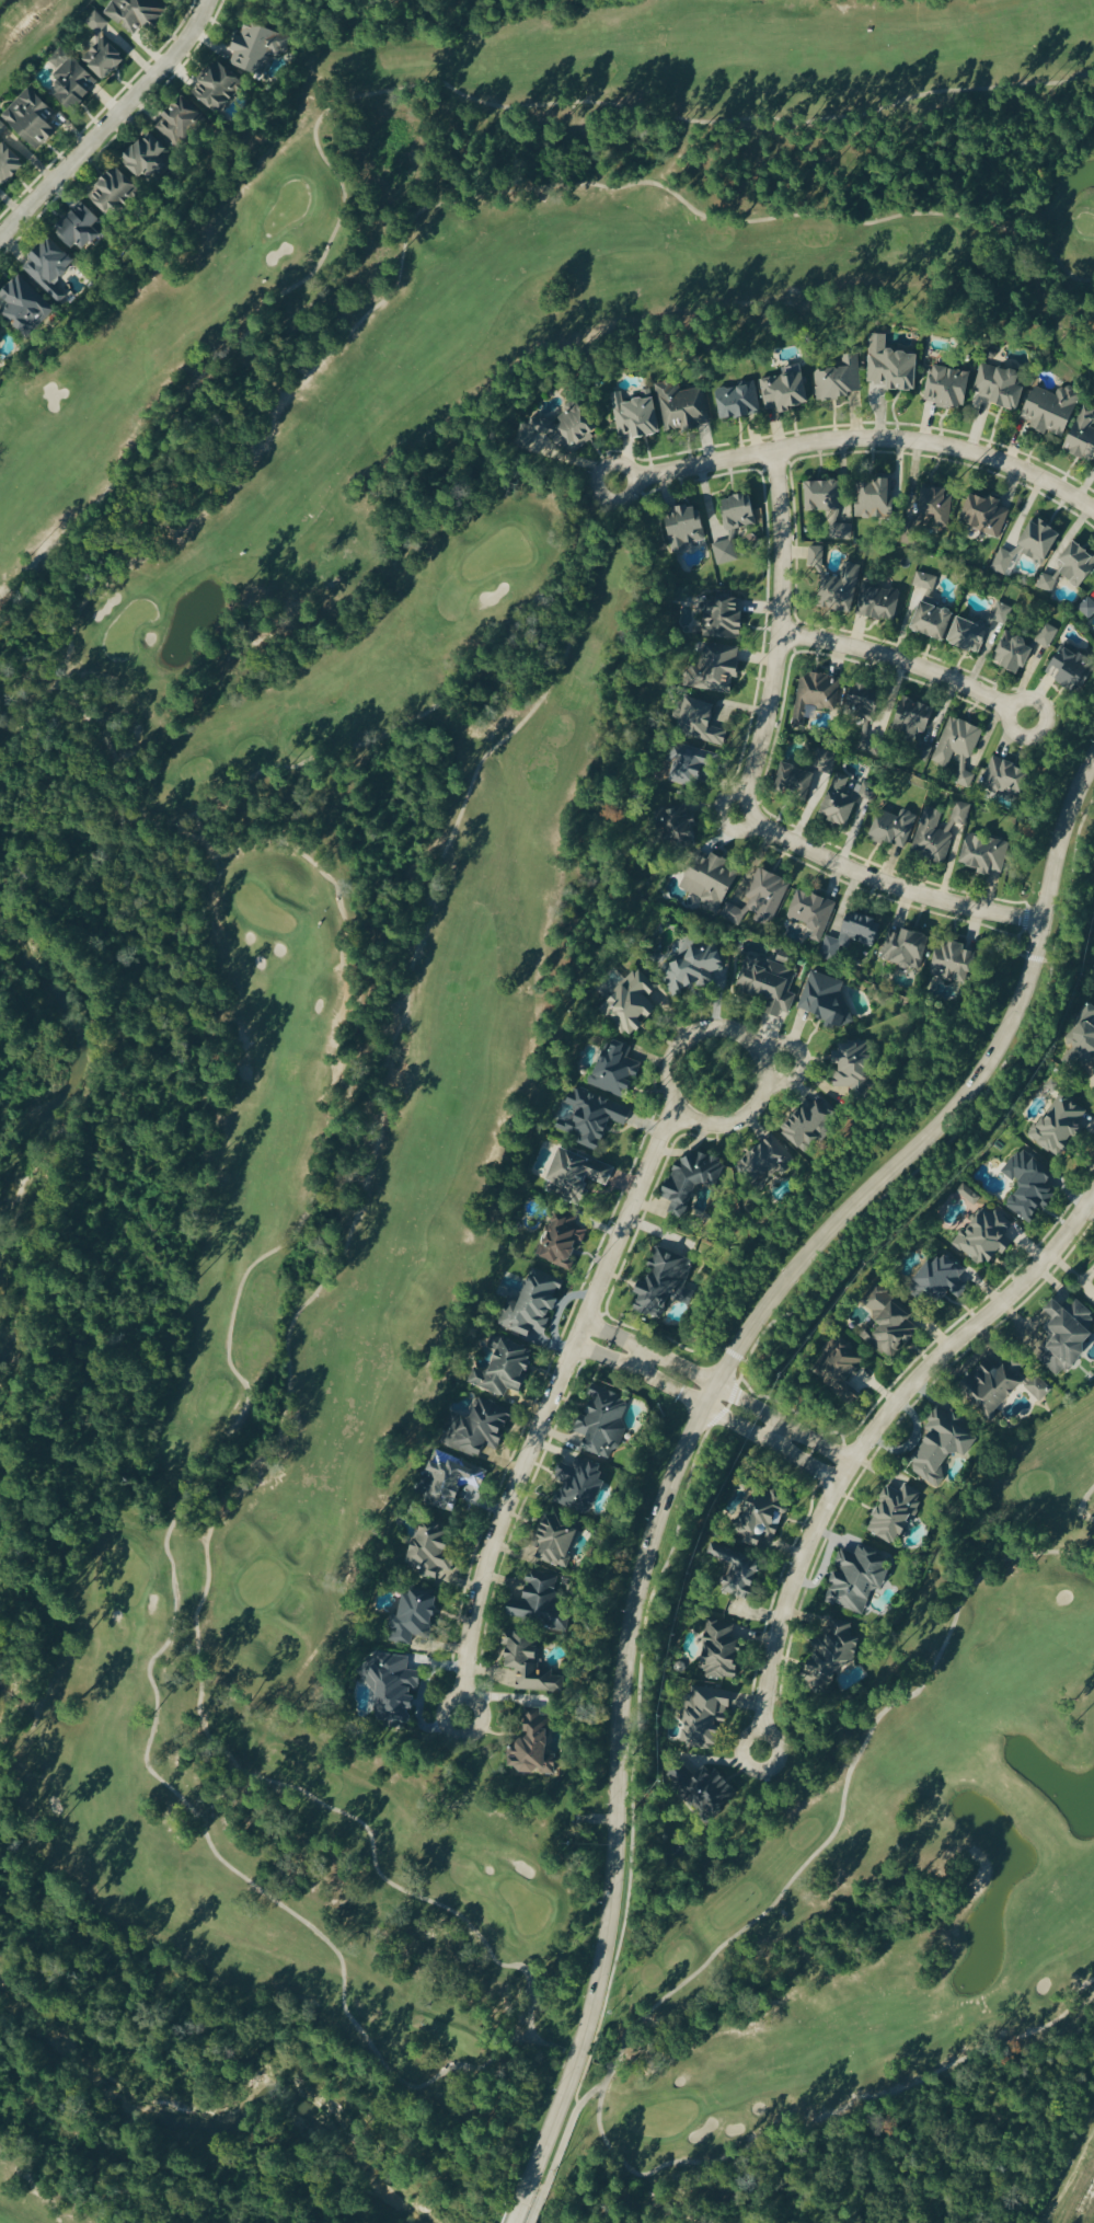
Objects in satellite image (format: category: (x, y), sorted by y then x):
building: (135, 12)
building: (258, 47)
building: (102, 48)
building: (71, 78)
building: (217, 84)
road: (396, 85)
building: (179, 119)
road: (111, 123)
building: (2, 126)
building: (146, 154)
building: (9, 162)
building: (112, 191)
building: (81, 226)
building: (49, 263)
building: (24, 306)
building: (1, 341)
building: (891, 365)
building: (840, 379)
building: (1002, 384)
building: (948, 385)
building: (786, 389)
building: (738, 400)
building: (682, 405)
building: (1052, 408)
building: (637, 414)
building: (564, 427)
building: (1083, 434)
road: (860, 439)
building: (875, 496)
building: (829, 505)
building: (936, 505)
building: (986, 514)
building: (735, 525)
building: (686, 527)
building: (1078, 563)
building: (1047, 581)
building: (926, 584)
building: (839, 587)
building: (879, 601)
building: (1087, 607)
building: (724, 618)
building: (934, 620)
building: (978, 630)
building: (1023, 647)
road: (909, 665)
building: (721, 668)
building: (1072, 669)
building: (815, 698)
road: (33, 702)
building: (866, 703)
building: (913, 721)
building: (957, 751)
building: (693, 767)
building: (1005, 780)
building: (796, 782)
road: (744, 795)
road: (177, 828)
building: (893, 829)
building: (937, 832)
building: (986, 855)
building: (711, 886)
building: (765, 897)
building: (811, 913)
building: (852, 936)
building: (905, 948)
road: (1018, 955)
building: (954, 964)
building: (696, 967)
building: (770, 984)
building: (825, 998)
park: (492, 1043)
road: (758, 1052)
building: (1082, 1052)
road: (802, 1058)
building: (613, 1068)
river: (51, 1108)
building: (1061, 1127)
building: (809, 1129)
building: (768, 1165)
building: (576, 1177)
building: (691, 1182)
building: (1030, 1184)
building: (986, 1236)
building: (563, 1243)
building: (941, 1281)
building: (666, 1286)
building: (537, 1305)
building: (893, 1327)
road: (599, 1332)
building: (1066, 1337)
road: (589, 1352)
road: (637, 1362)
road: (718, 1386)
building: (994, 1386)
building: (1038, 1390)
road: (706, 1408)
road: (549, 1412)
building: (604, 1421)
road: (695, 1430)
road: (776, 1435)
road: (870, 1439)
building: (941, 1447)
road: (834, 1455)
road: (694, 1465)
road: (821, 1475)
road: (193, 1479)
building: (453, 1483)
road: (1082, 1508)
building: (569, 1512)
building: (896, 1513)
building: (763, 1514)
building: (430, 1553)
building: (856, 1585)
building: (417, 1613)
building: (517, 1631)
river: (1, 1640)
building: (718, 1657)
building: (393, 1692)
building: (706, 1719)
building: (537, 1747)
road: (847, 1787)
road: (326, 1807)
road: (606, 2083)
road: (829, 2121)
river: (211, 2128)
road: (1070, 2179)
park: (54, 2187)
road: (659, 2203)
road: (518, 2211)
road: (534, 2214)

